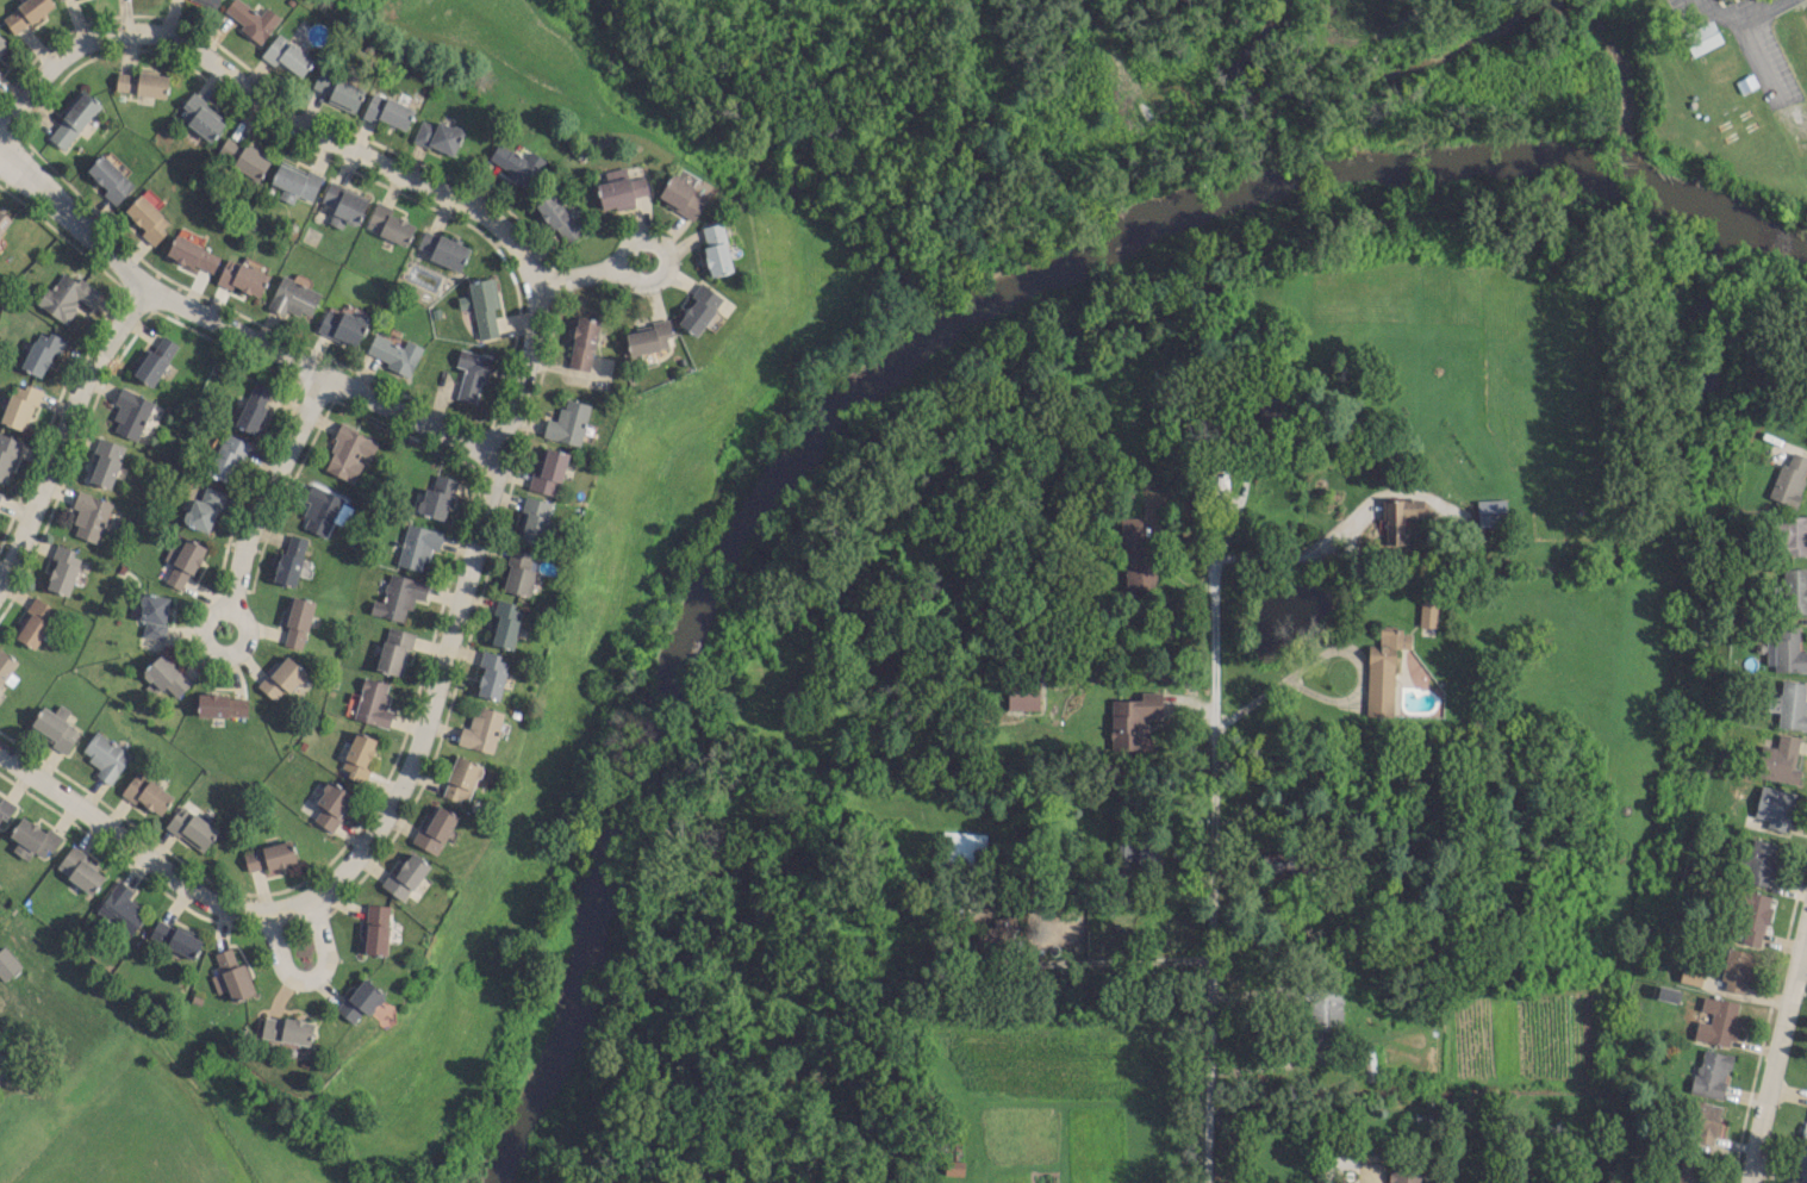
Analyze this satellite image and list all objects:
building: (217, 0)
building: (26, 13)
building: (251, 19)
building: (1701, 37)
building: (2, 43)
building: (287, 56)
building: (0, 70)
building: (142, 82)
building: (338, 89)
road: (268, 108)
building: (387, 111)
building: (200, 117)
building: (73, 119)
building: (437, 136)
building: (243, 156)
building: (517, 163)
building: (110, 179)
building: (294, 182)
building: (619, 188)
building: (681, 197)
building: (343, 204)
building: (557, 217)
building: (147, 218)
building: (2, 220)
building: (388, 224)
building: (442, 249)
building: (715, 249)
building: (192, 254)
road: (665, 254)
road: (582, 275)
building: (241, 278)
building: (67, 297)
building: (292, 297)
building: (481, 306)
building: (699, 309)
building: (341, 325)
road: (230, 331)
building: (647, 337)
building: (582, 343)
building: (39, 353)
building: (393, 353)
building: (154, 361)
river: (929, 367)
building: (472, 373)
building: (19, 406)
building: (253, 406)
building: (130, 412)
building: (567, 423)
road: (63, 429)
building: (348, 453)
building: (6, 455)
building: (228, 457)
building: (105, 462)
building: (549, 471)
building: (1789, 478)
road: (266, 492)
building: (0, 493)
building: (436, 497)
building: (204, 509)
building: (319, 510)
building: (89, 516)
building: (534, 519)
building: (1789, 534)
building: (417, 546)
building: (1135, 556)
road: (1316, 558)
building: (289, 559)
building: (183, 564)
building: (62, 569)
building: (519, 572)
building: (1794, 590)
building: (398, 596)
road: (230, 614)
building: (152, 615)
building: (297, 622)
building: (35, 623)
building: (505, 623)
road: (1329, 648)
building: (1786, 649)
building: (393, 650)
road: (1136, 673)
building: (491, 674)
building: (1381, 674)
building: (166, 675)
building: (281, 677)
building: (1022, 695)
building: (373, 702)
building: (222, 705)
building: (1788, 705)
building: (1133, 721)
building: (481, 730)
building: (105, 755)
building: (357, 755)
building: (1778, 760)
building: (460, 779)
road: (407, 784)
building: (147, 792)
building: (330, 804)
building: (1774, 807)
building: (5, 810)
building: (191, 828)
building: (434, 828)
building: (32, 839)
building: (961, 848)
building: (268, 855)
building: (1759, 861)
building: (80, 868)
road: (1205, 871)
building: (404, 877)
building: (120, 908)
building: (1752, 917)
building: (375, 928)
road: (1802, 930)
building: (175, 939)
road: (1802, 948)
road: (1115, 960)
building: (7, 964)
building: (1737, 970)
building: (232, 975)
building: (1689, 978)
road: (309, 983)
building: (360, 1000)
building: (1716, 1021)
building: (286, 1029)
building: (2, 1064)
road: (1770, 1064)
building: (1709, 1073)
building: (1700, 1121)
building: (1803, 1128)
road: (1339, 1162)
building: (1690, 1169)
building: (1403, 1176)
road: (1203, 1182)

